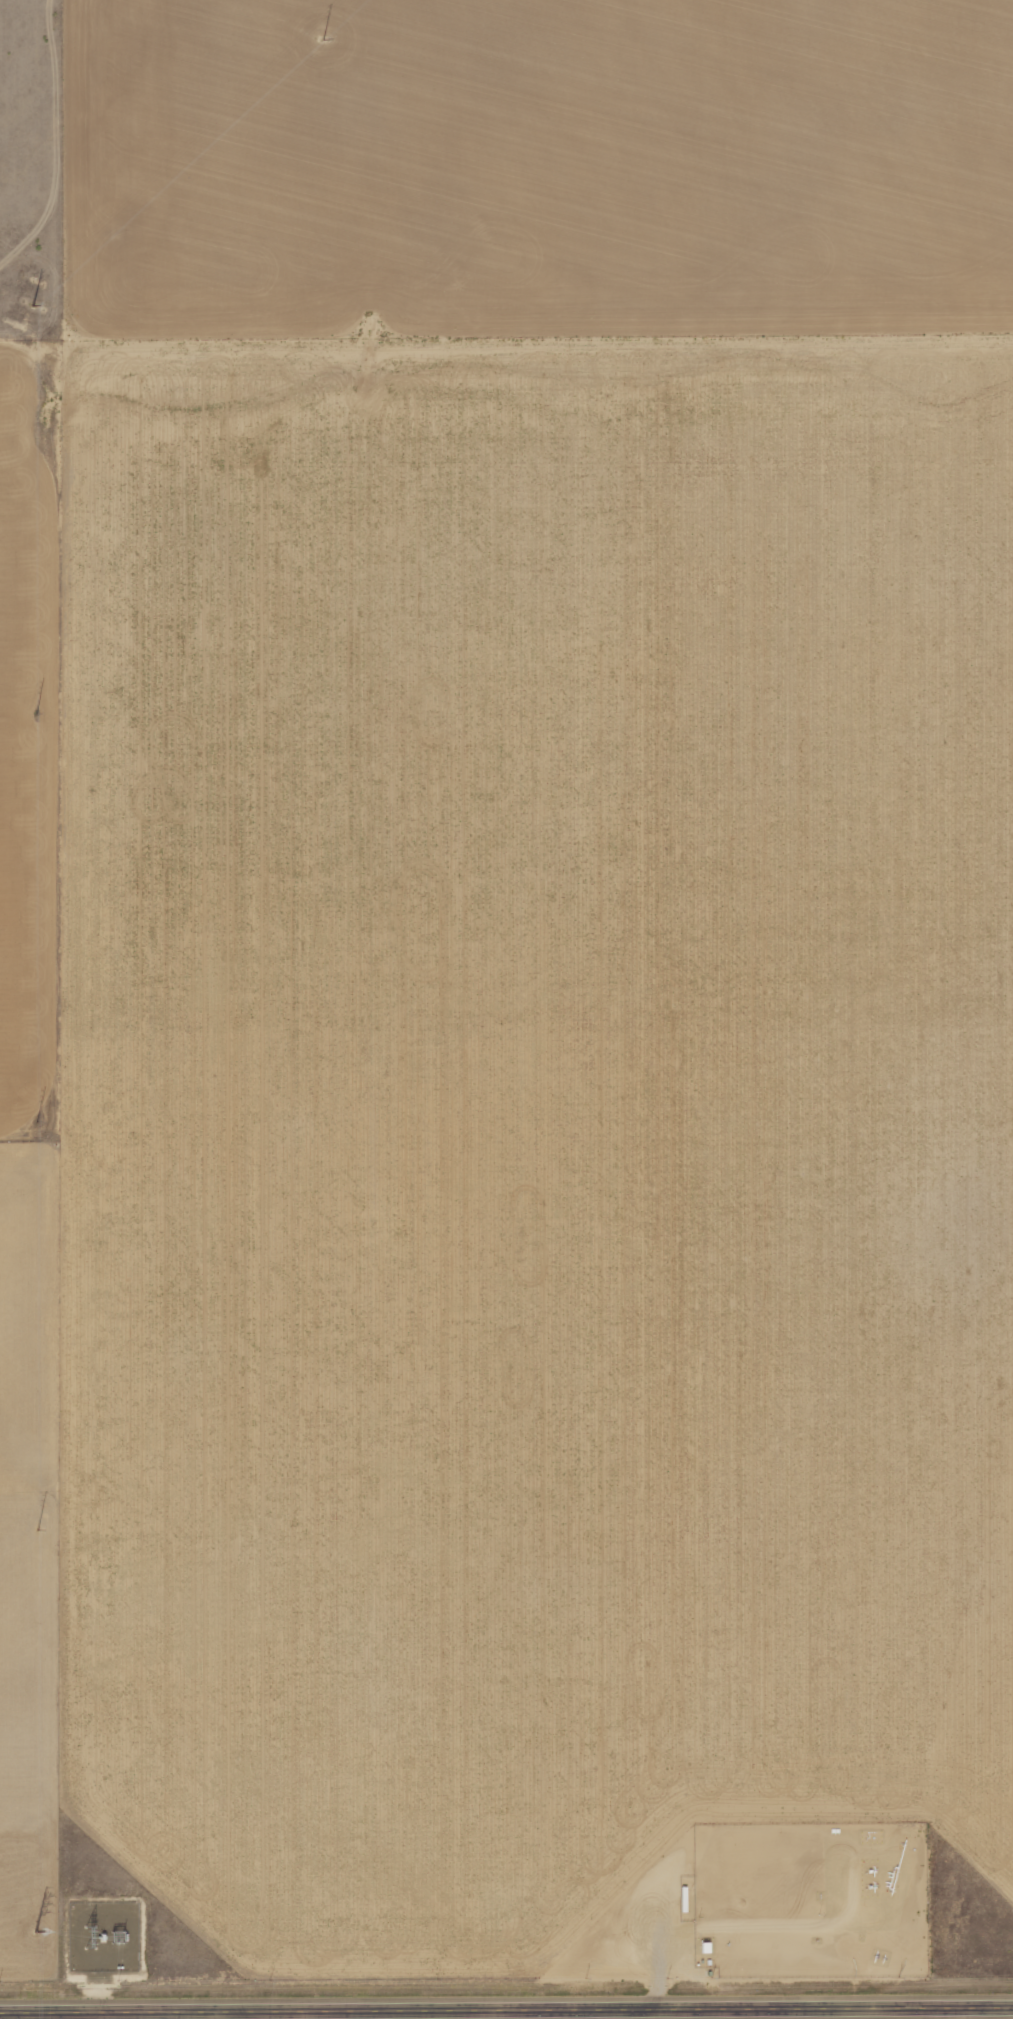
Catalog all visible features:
power tower: (321, 39)
power tower: (32, 306)
power tower: (34, 714)
power tower: (33, 1121)
power tower: (35, 1528)
power tower: (34, 1934)
power substation: (100, 1936)
road: (506, 2009)
road: (605, 2014)
road: (241, 2015)

